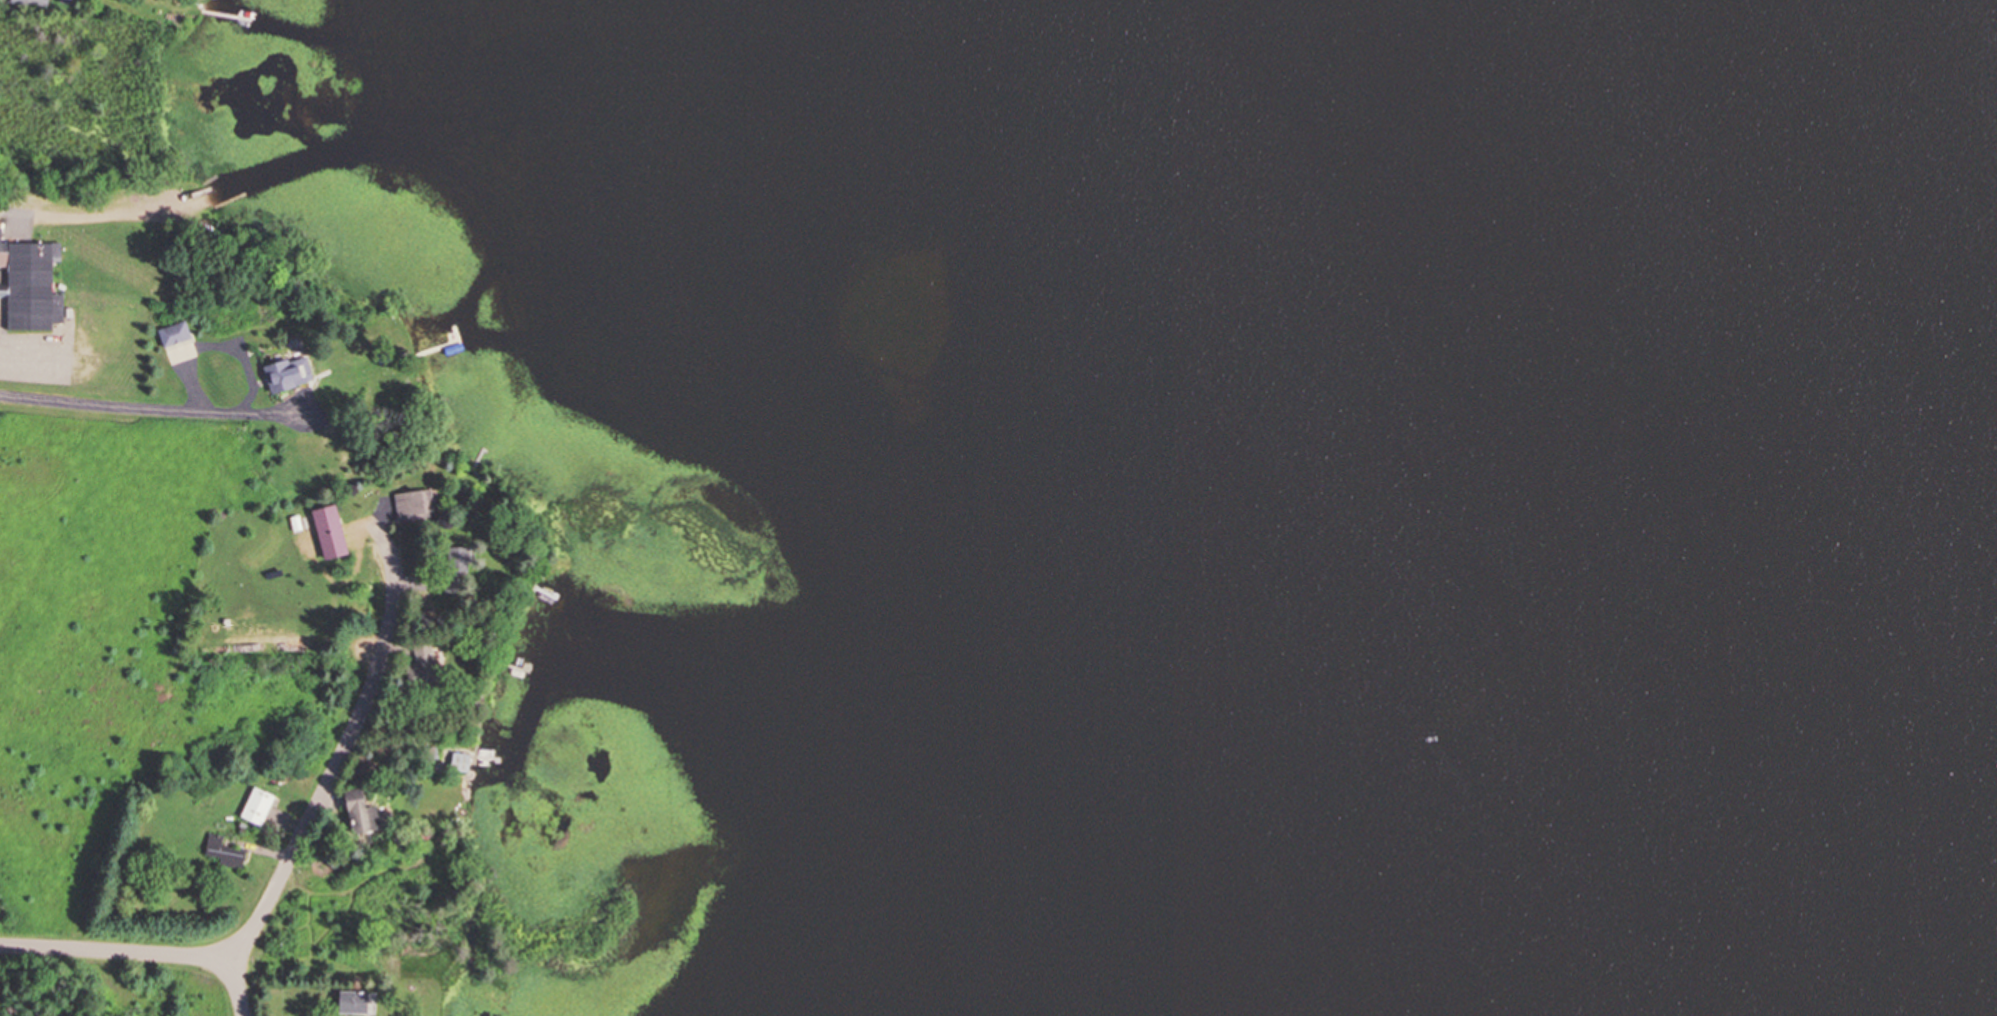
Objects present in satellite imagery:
building: (31, 3)
building: (30, 284)
building: (172, 332)
building: (285, 372)
road: (150, 410)
building: (412, 503)
building: (327, 531)
building: (454, 568)
building: (423, 663)
building: (458, 761)
road: (333, 771)
building: (255, 806)
building: (357, 812)
building: (221, 851)
road: (118, 950)
building: (351, 1002)

